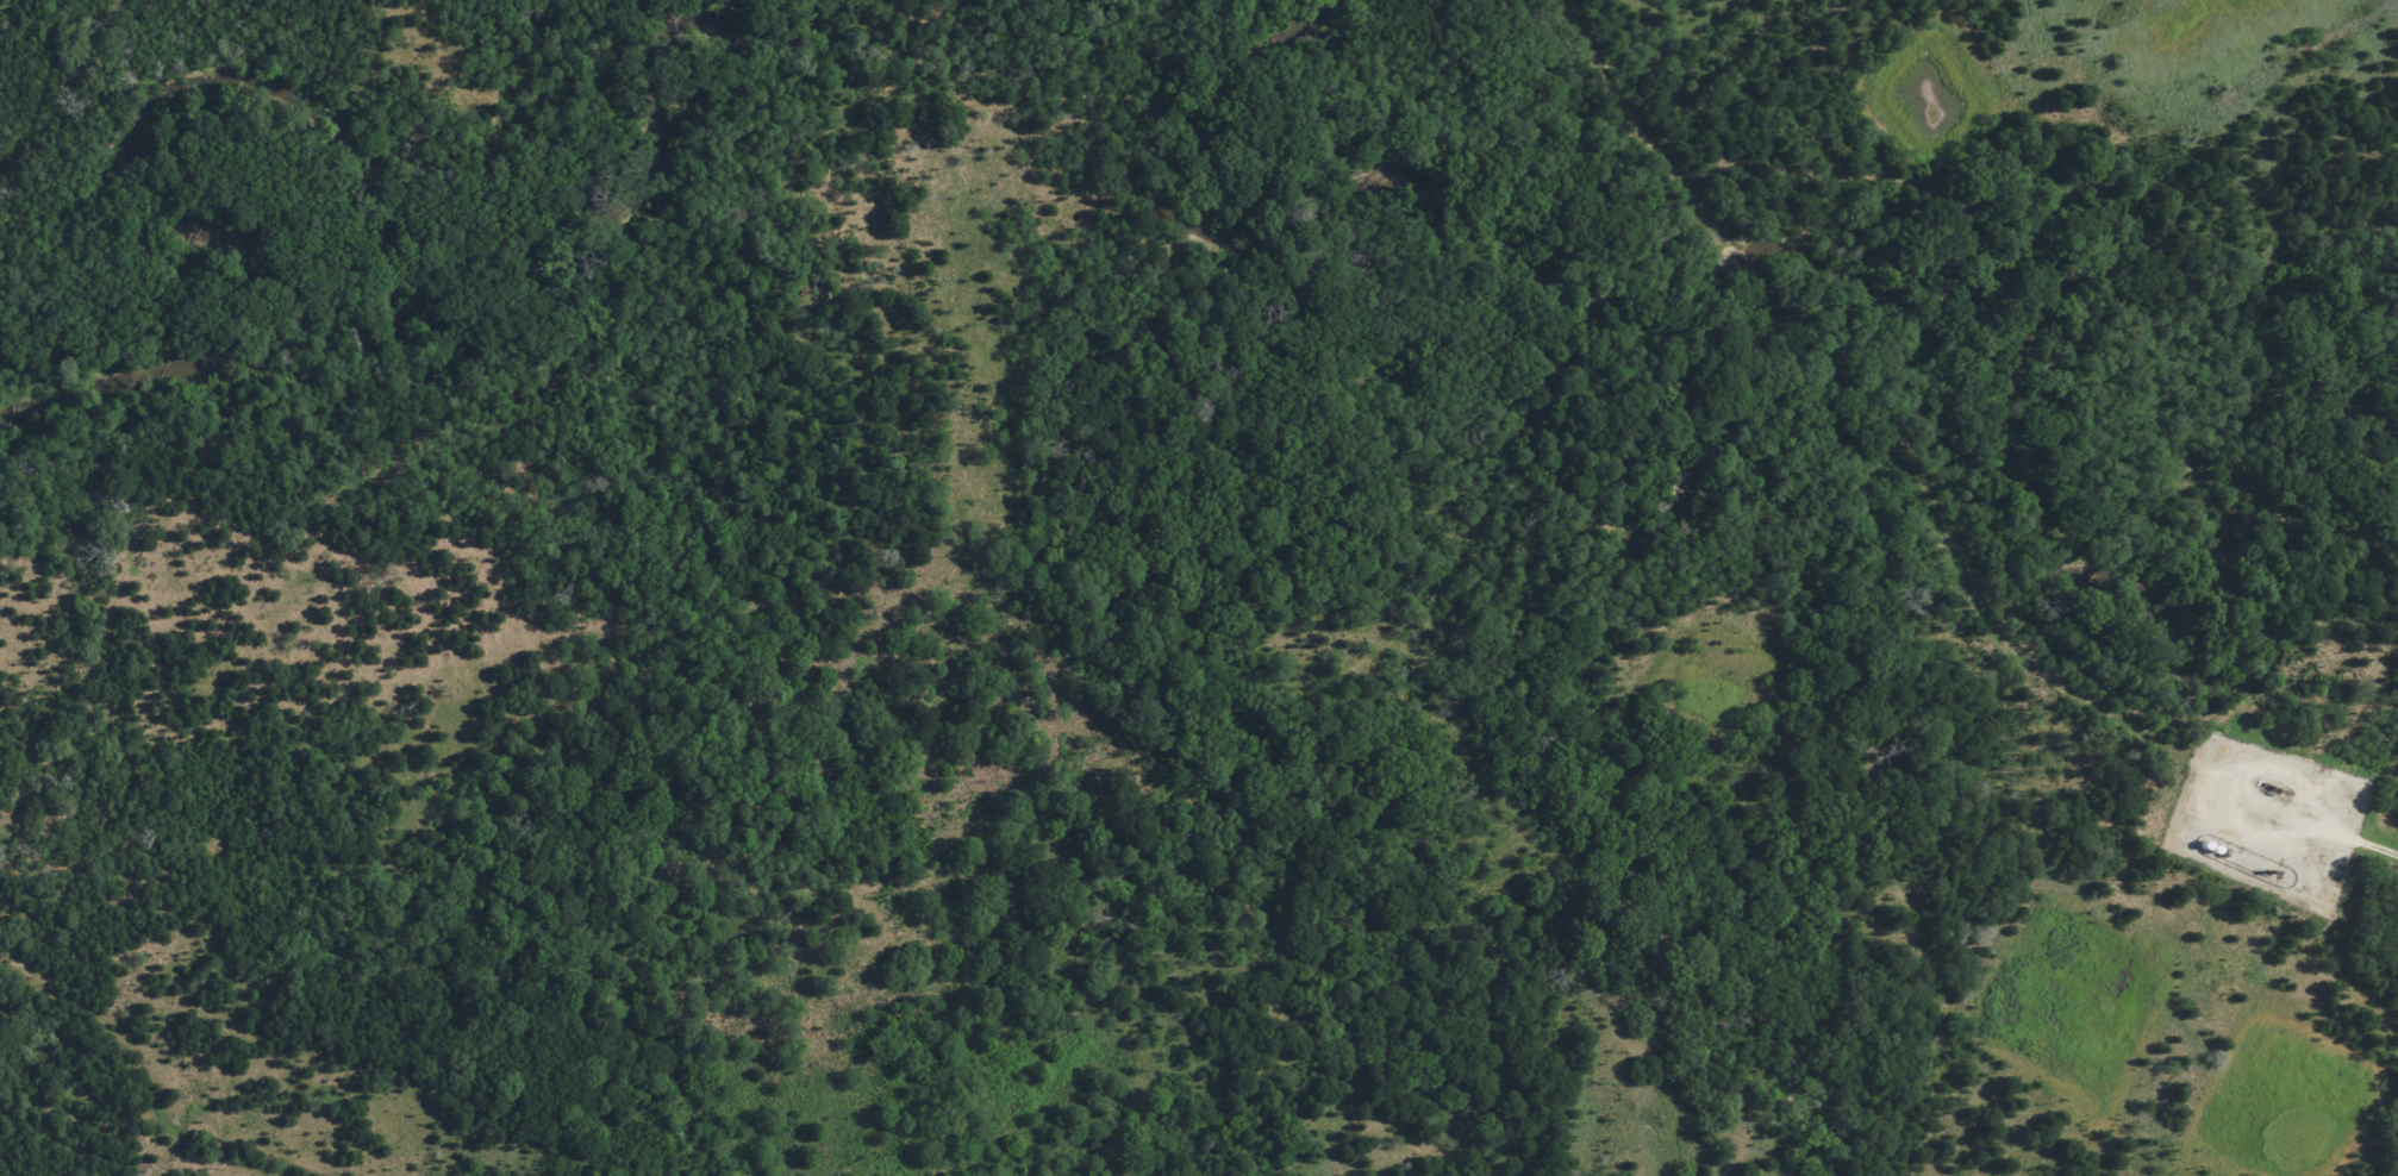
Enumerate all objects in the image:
petroleum well: (2283, 793)

